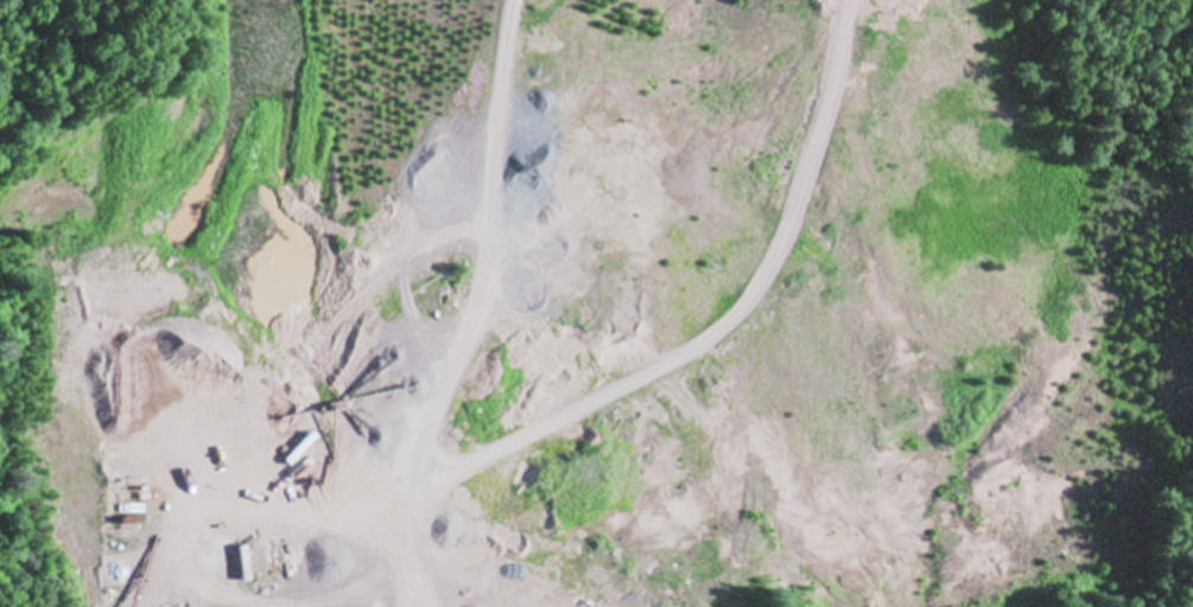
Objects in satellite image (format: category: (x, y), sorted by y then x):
quarry: (629, 303)
road: (486, 306)
quarry: (602, 312)
road: (590, 404)

